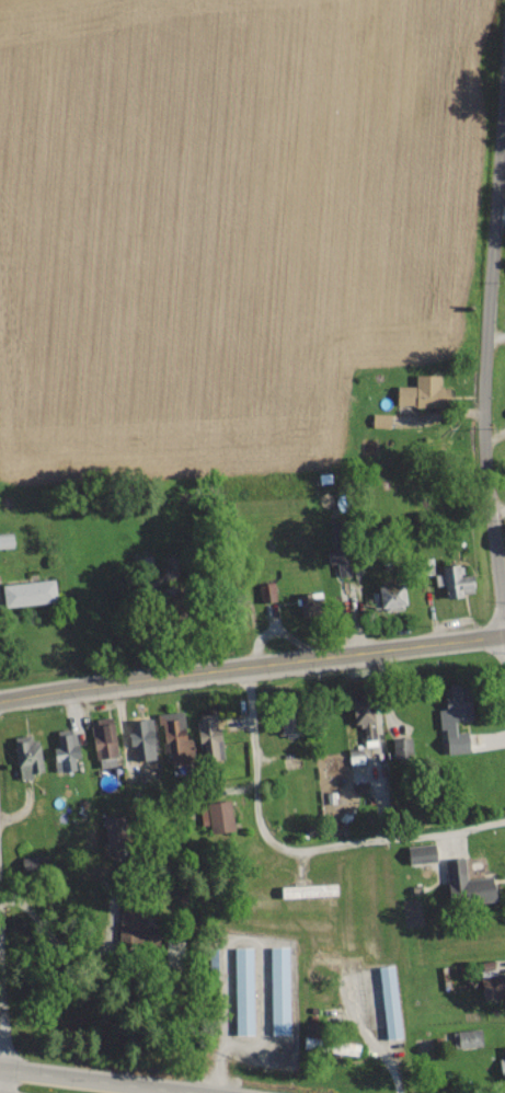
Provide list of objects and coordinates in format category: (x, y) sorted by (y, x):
road: (497, 336)
road: (489, 368)
building: (422, 391)
building: (380, 419)
road: (497, 504)
building: (5, 540)
building: (454, 580)
building: (28, 591)
building: (266, 591)
building: (388, 595)
road: (251, 663)
building: (363, 716)
building: (455, 717)
road: (411, 730)
building: (173, 733)
building: (208, 734)
building: (102, 737)
building: (138, 743)
building: (401, 746)
building: (65, 750)
building: (26, 755)
building: (217, 816)
road: (296, 847)
building: (421, 852)
building: (33, 862)
building: (466, 883)
building: (308, 889)
building: (135, 930)
building: (279, 989)
building: (242, 990)
building: (389, 1001)
road: (367, 1033)
building: (466, 1037)
road: (0, 1067)
building: (502, 1067)
road: (88, 1080)

